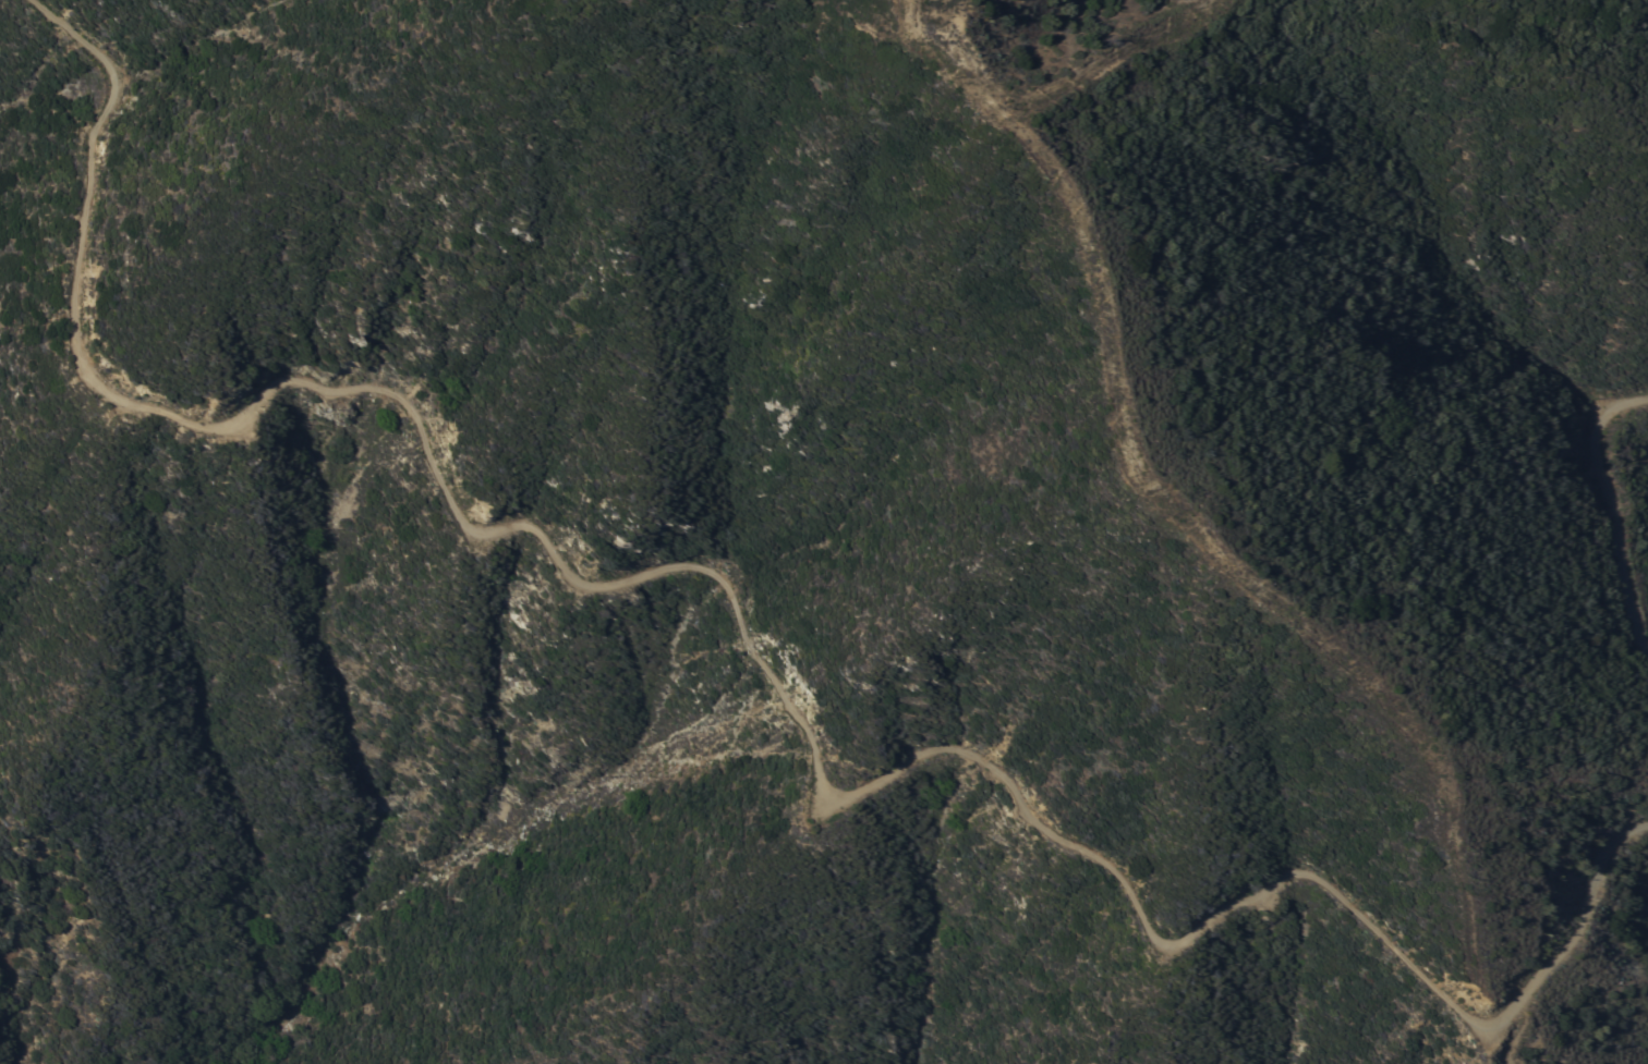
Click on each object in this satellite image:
road: (1044, 91)
road: (1614, 502)
road: (746, 634)
road: (1465, 1039)

